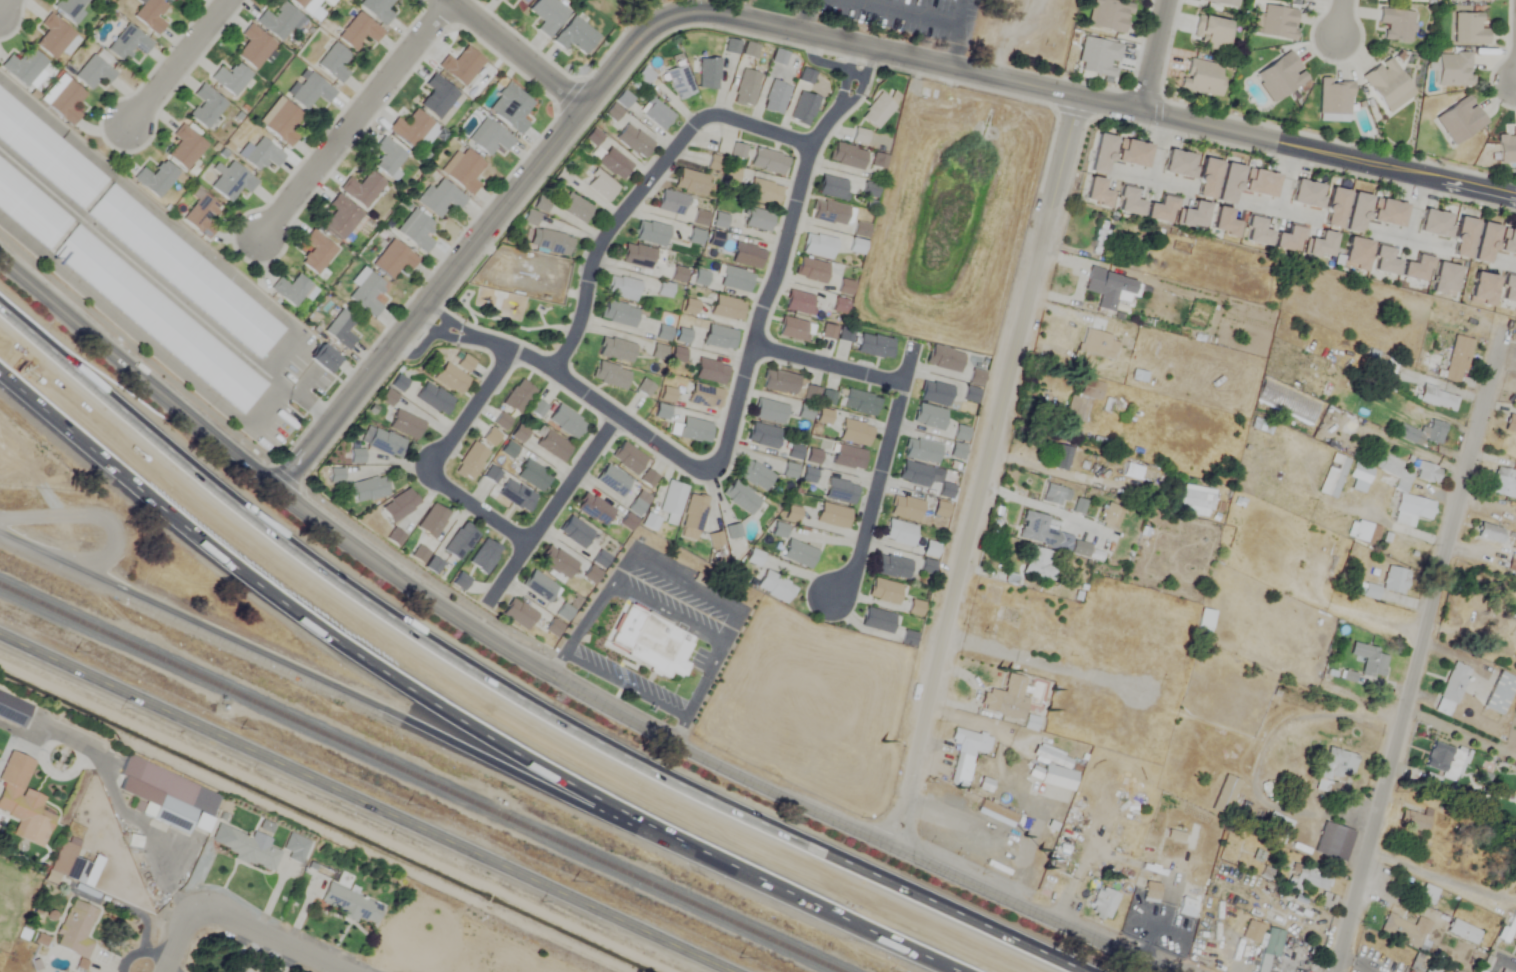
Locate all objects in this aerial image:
building: (169, 0)
building: (1307, 0)
building: (1472, 0)
building: (509, 1)
building: (523, 1)
building: (299, 2)
building: (1222, 2)
road: (4, 5)
building: (69, 7)
building: (377, 10)
building: (150, 15)
building: (547, 15)
road: (803, 15)
building: (1108, 15)
road: (1338, 17)
building: (1277, 21)
building: (278, 22)
building: (1396, 24)
park: (922, 27)
building: (1467, 29)
road: (792, 30)
building: (358, 32)
road: (956, 33)
building: (1210, 33)
building: (53, 37)
building: (574, 37)
building: (127, 43)
building: (254, 47)
building: (749, 50)
road: (519, 53)
road: (1153, 55)
building: (1097, 57)
road: (181, 63)
building: (333, 63)
building: (461, 66)
building: (24, 67)
building: (1452, 69)
building: (93, 73)
building: (708, 73)
building: (643, 76)
building: (1202, 77)
building: (1279, 77)
building: (230, 78)
building: (680, 82)
building: (1385, 82)
building: (746, 89)
building: (309, 91)
building: (437, 97)
building: (775, 98)
building: (1333, 100)
building: (66, 103)
building: (205, 106)
building: (510, 108)
building: (803, 109)
building: (877, 111)
building: (656, 114)
road: (356, 119)
building: (1459, 120)
building: (280, 122)
building: (410, 129)
building: (859, 137)
building: (489, 138)
building: (634, 142)
building: (1507, 147)
building: (185, 148)
building: (737, 151)
building: (1132, 153)
building: (49, 154)
building: (1101, 154)
building: (259, 155)
building: (847, 156)
building: (387, 157)
building: (878, 161)
building: (768, 162)
building: (715, 163)
building: (614, 164)
building: (1179, 164)
building: (463, 171)
building: (731, 176)
building: (157, 179)
building: (1207, 179)
building: (231, 181)
building: (691, 182)
building: (1260, 183)
building: (1229, 184)
building: (601, 187)
building: (833, 188)
road: (645, 189)
building: (363, 190)
building: (869, 190)
building: (764, 192)
building: (1097, 193)
building: (1307, 194)
building: (439, 199)
building: (1128, 202)
building: (672, 204)
building: (31, 208)
building: (575, 208)
building: (1335, 209)
building: (1161, 210)
building: (829, 213)
building: (1388, 213)
building: (201, 214)
building: (1357, 214)
building: (1193, 216)
building: (340, 217)
building: (700, 219)
building: (757, 220)
building: (719, 221)
building: (1224, 223)
building: (1435, 224)
building: (415, 231)
building: (1256, 232)
building: (651, 234)
building: (695, 237)
building: (1462, 238)
building: (1100, 239)
building: (714, 240)
building: (1289, 240)
building: (550, 242)
building: (1485, 243)
building: (1508, 243)
building: (818, 246)
building: (1322, 246)
building: (316, 252)
building: (1356, 254)
building: (747, 256)
building: (637, 257)
building: (393, 259)
building: (1384, 262)
road: (781, 263)
building: (1417, 269)
building: (811, 270)
building: (187, 272)
building: (678, 275)
building: (1445, 279)
building: (735, 280)
building: (622, 289)
building: (1109, 289)
building: (291, 290)
building: (664, 290)
building: (1483, 290)
building: (1508, 290)
building: (366, 294)
building: (799, 303)
building: (727, 308)
building: (618, 314)
building: (161, 320)
building: (340, 330)
building: (795, 330)
building: (828, 332)
building: (846, 335)
building: (682, 337)
building: (719, 338)
building: (1099, 344)
building: (874, 346)
building: (616, 350)
building: (323, 359)
building: (944, 359)
building: (1457, 359)
building: (464, 363)
road: (830, 366)
building: (1381, 371)
building: (710, 372)
building: (610, 376)
building: (975, 378)
building: (450, 379)
building: (779, 383)
building: (397, 384)
road: (565, 386)
building: (644, 387)
building: (935, 394)
building: (667, 395)
building: (970, 395)
building: (518, 397)
building: (704, 397)
building: (1435, 397)
building: (434, 399)
building: (1082, 400)
building: (859, 403)
building: (537, 409)
building: (769, 412)
building: (661, 413)
building: (805, 413)
road: (470, 416)
building: (929, 417)
building: (501, 422)
building: (566, 423)
building: (1510, 424)
building: (405, 425)
building: (1261, 426)
building: (694, 431)
building: (854, 433)
building: (1421, 433)
building: (519, 434)
building: (762, 436)
building: (490, 438)
building: (386, 444)
building: (553, 446)
building: (921, 451)
building: (794, 453)
building: (848, 458)
building: (1061, 458)
building: (627, 459)
building: (471, 462)
building: (790, 472)
building: (1406, 472)
road: (882, 473)
road: (986, 473)
building: (914, 475)
building: (532, 476)
building: (753, 476)
building: (808, 477)
building: (1333, 477)
building: (1359, 478)
building: (648, 480)
building: (612, 481)
building: (1502, 483)
building: (369, 490)
building: (840, 492)
building: (945, 492)
building: (1053, 495)
building: (516, 496)
building: (740, 498)
building: (1196, 501)
building: (672, 503)
building: (399, 506)
road: (1044, 507)
building: (636, 508)
building: (594, 509)
building: (905, 509)
building: (941, 509)
building: (1414, 510)
road: (554, 511)
building: (694, 513)
road: (94, 515)
road: (476, 515)
building: (791, 515)
building: (832, 516)
building: (1111, 516)
building: (432, 521)
building: (575, 532)
building: (732, 532)
building: (899, 533)
building: (1042, 533)
building: (1365, 533)
building: (1491, 534)
building: (394, 538)
building: (461, 541)
road: (31, 546)
building: (799, 554)
building: (419, 555)
building: (484, 556)
building: (754, 558)
building: (557, 562)
building: (1512, 563)
building: (1039, 565)
building: (433, 566)
building: (891, 567)
building: (459, 580)
road: (687, 580)
building: (1394, 580)
building: (539, 586)
building: (775, 587)
building: (884, 591)
building: (518, 614)
building: (877, 620)
building: (664, 639)
road: (1422, 648)
building: (1369, 660)
road: (1041, 664)
road: (549, 674)
road: (326, 682)
building: (1451, 688)
building: (1499, 692)
road: (506, 693)
building: (1006, 698)
building: (13, 711)
road: (456, 717)
building: (1030, 723)
road: (80, 747)
road: (1258, 753)
building: (965, 755)
building: (1445, 760)
building: (1053, 768)
building: (1334, 769)
railway: (426, 777)
railway: (390, 791)
building: (22, 798)
building: (170, 798)
road: (367, 803)
building: (998, 809)
building: (1272, 820)
building: (1412, 822)
road: (142, 829)
building: (1188, 831)
building: (1136, 832)
building: (1180, 838)
building: (1339, 838)
building: (247, 849)
building: (72, 866)
road: (1440, 875)
building: (1306, 879)
road: (168, 881)
building: (1153, 886)
crop: (24, 892)
building: (1427, 895)
building: (1103, 903)
building: (1190, 903)
building: (350, 904)
building: (1508, 927)
building: (1404, 929)
building: (75, 930)
building: (1462, 930)
building: (1251, 932)
road: (178, 939)
road: (264, 939)
building: (1272, 945)
building: (1515, 948)
building: (1480, 959)
road: (1502, 962)
building: (1406, 969)
building: (1509, 969)
building: (1502, 971)

